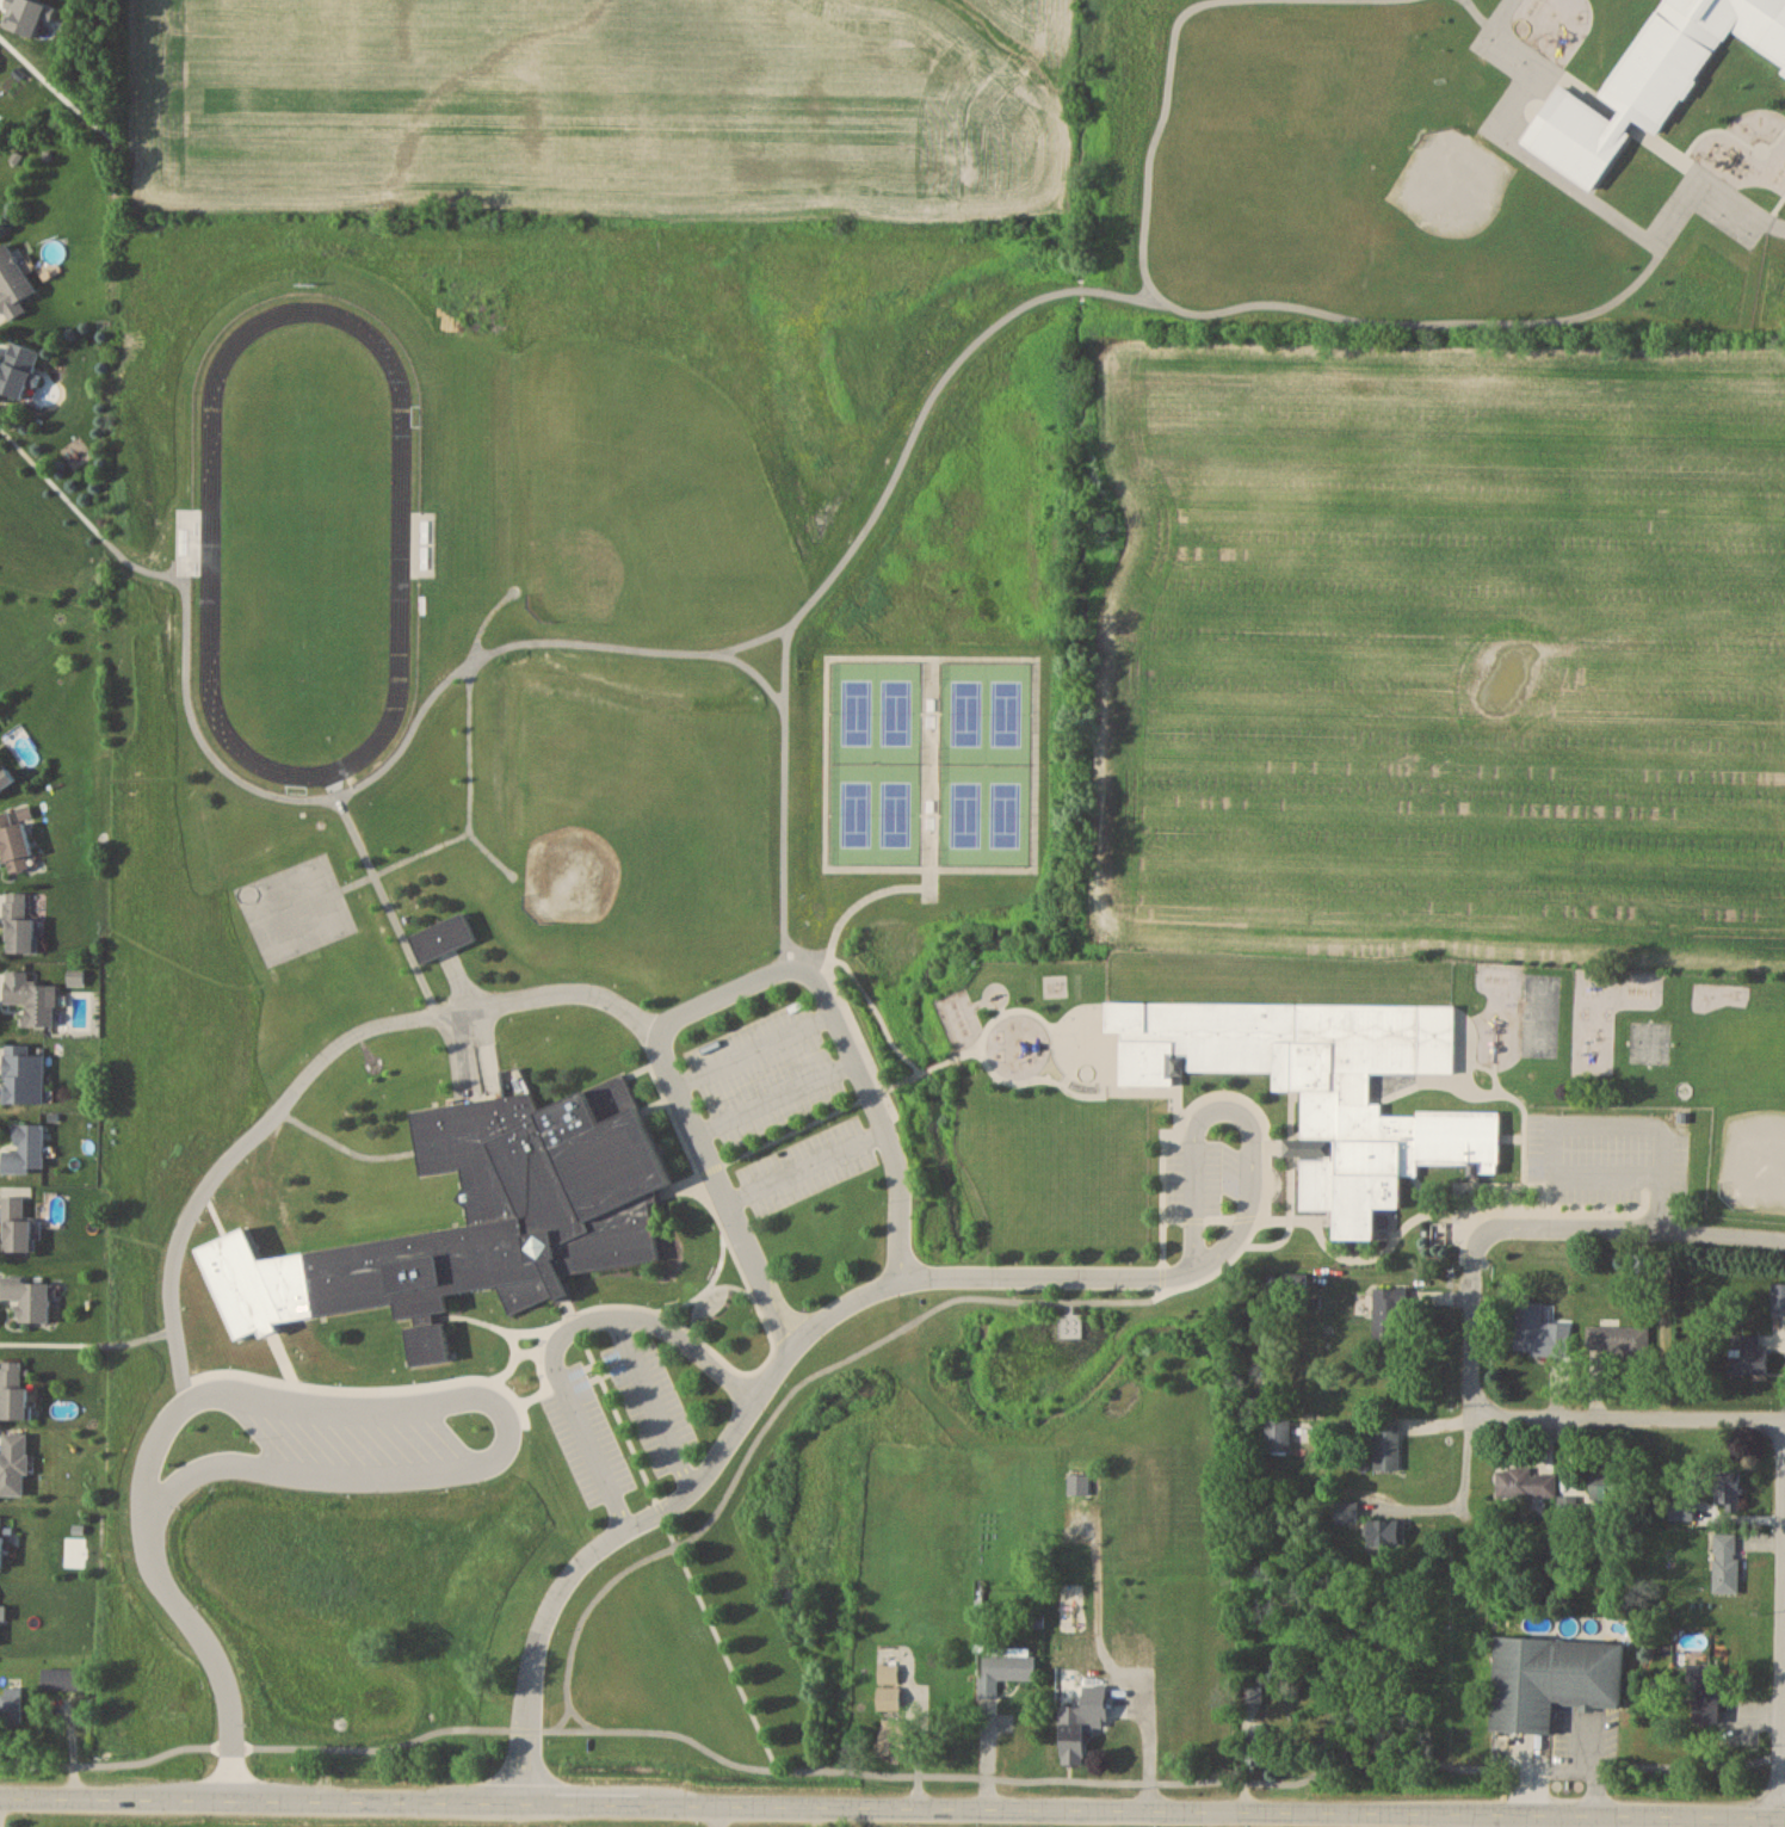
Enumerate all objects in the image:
building: (12, 282)
building: (18, 368)
track: (209, 533)
building: (5, 777)
building: (14, 842)
building: (19, 921)
building: (441, 937)
road: (724, 996)
building: (31, 998)
road: (752, 1051)
road: (309, 1073)
building: (23, 1074)
building: (1316, 1091)
road: (772, 1095)
road: (1254, 1105)
road: (1580, 1119)
building: (25, 1149)
road: (803, 1162)
road: (901, 1200)
building: (507, 1209)
building: (18, 1226)
road: (1482, 1232)
road: (1724, 1235)
building: (1641, 1264)
road: (755, 1271)
building: (29, 1297)
building: (1389, 1309)
building: (1069, 1325)
road: (564, 1331)
building: (1540, 1337)
building: (1617, 1339)
building: (1761, 1340)
building: (13, 1389)
road: (650, 1401)
road: (747, 1407)
road: (340, 1408)
road: (774, 1412)
road: (1626, 1416)
building: (1278, 1434)
building: (1388, 1446)
road: (1466, 1462)
building: (13, 1463)
building: (1525, 1482)
building: (1605, 1489)
building: (1728, 1490)
building: (1682, 1507)
building: (1347, 1511)
building: (1388, 1531)
building: (1, 1539)
building: (1727, 1561)
road: (1780, 1616)
building: (1128, 1637)
building: (1007, 1668)
building: (1544, 1671)
building: (62, 1678)
building: (888, 1685)
building: (1705, 1690)
building: (1252, 1691)
building: (1064, 1698)
building: (11, 1708)
road: (586, 1718)
building: (1073, 1743)
building: (1258, 1743)
road: (1153, 1745)
road: (1592, 1765)
road: (890, 1773)
road: (891, 1810)
road: (716, 1817)
road: (1574, 1821)

